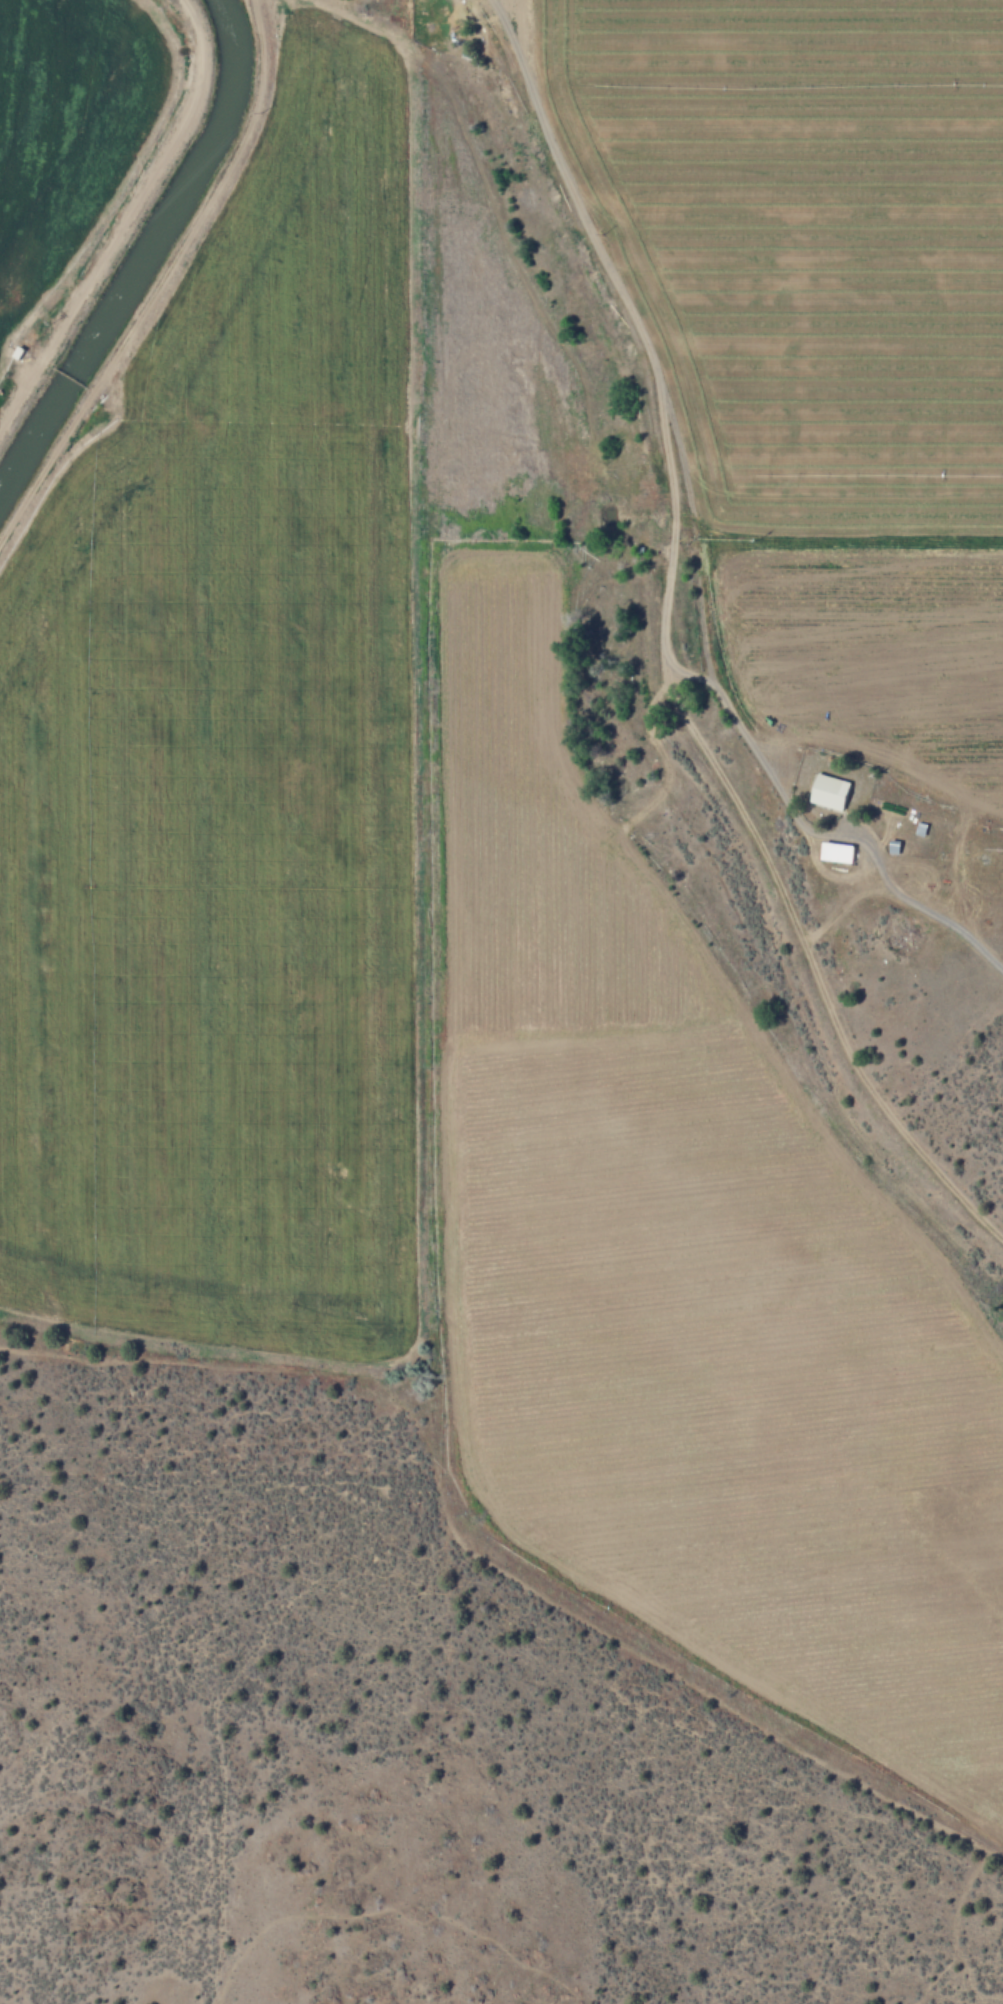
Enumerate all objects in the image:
road: (675, 434)
building: (828, 791)
road: (754, 832)
building: (836, 851)

